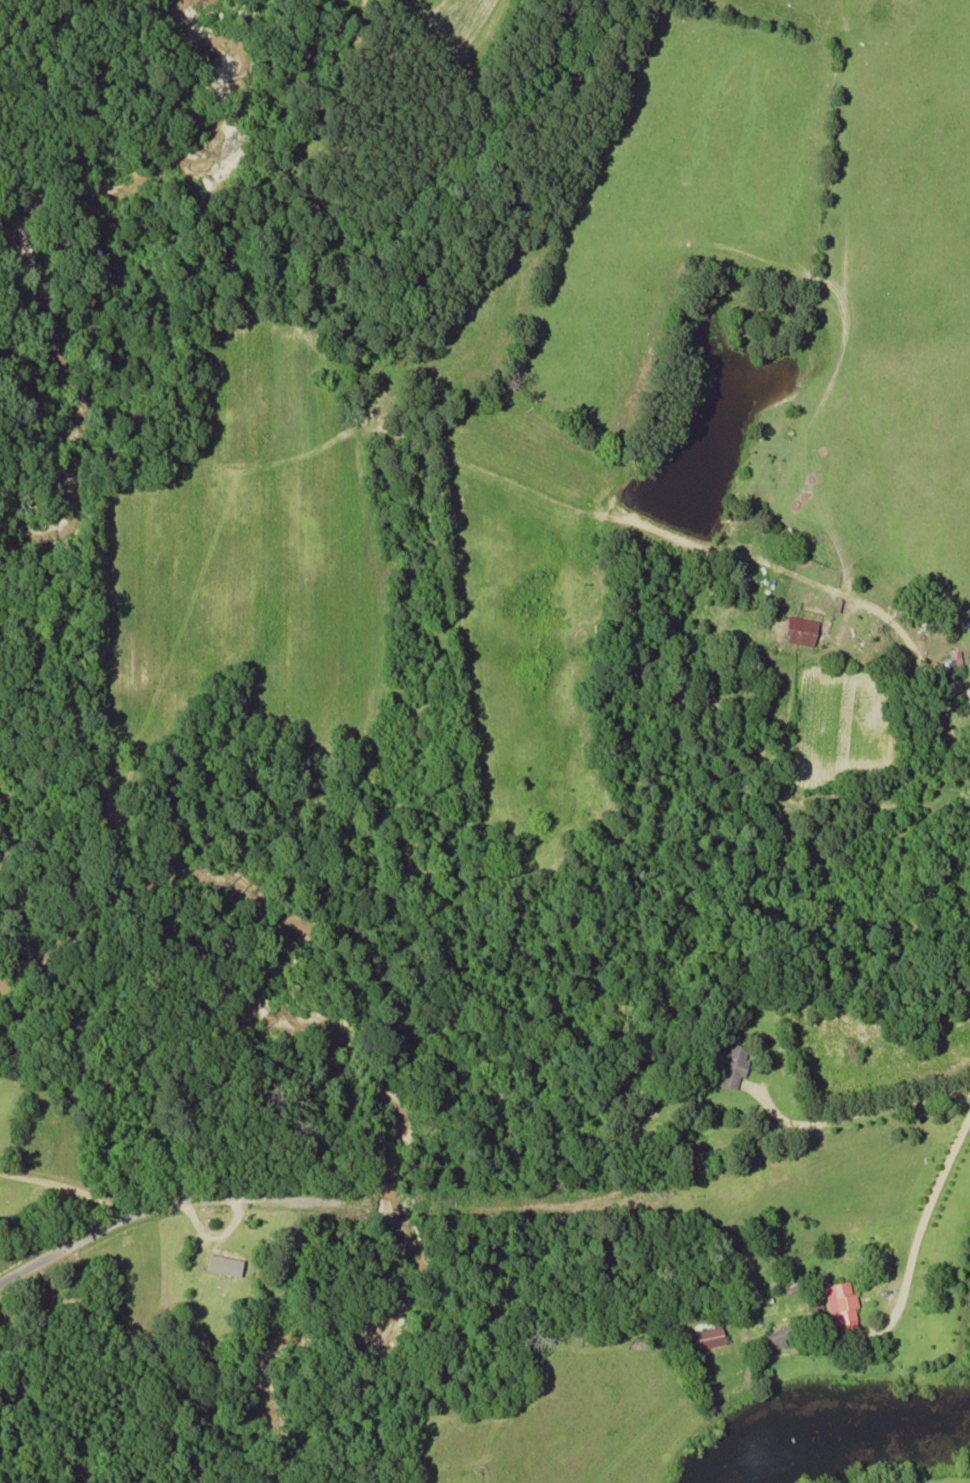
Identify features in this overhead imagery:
building: (796, 629)
building: (954, 655)
building: (969, 667)
building: (730, 1064)
road: (892, 1102)
road: (144, 1210)
building: (220, 1264)
building: (838, 1305)
building: (707, 1336)
building: (771, 1336)

